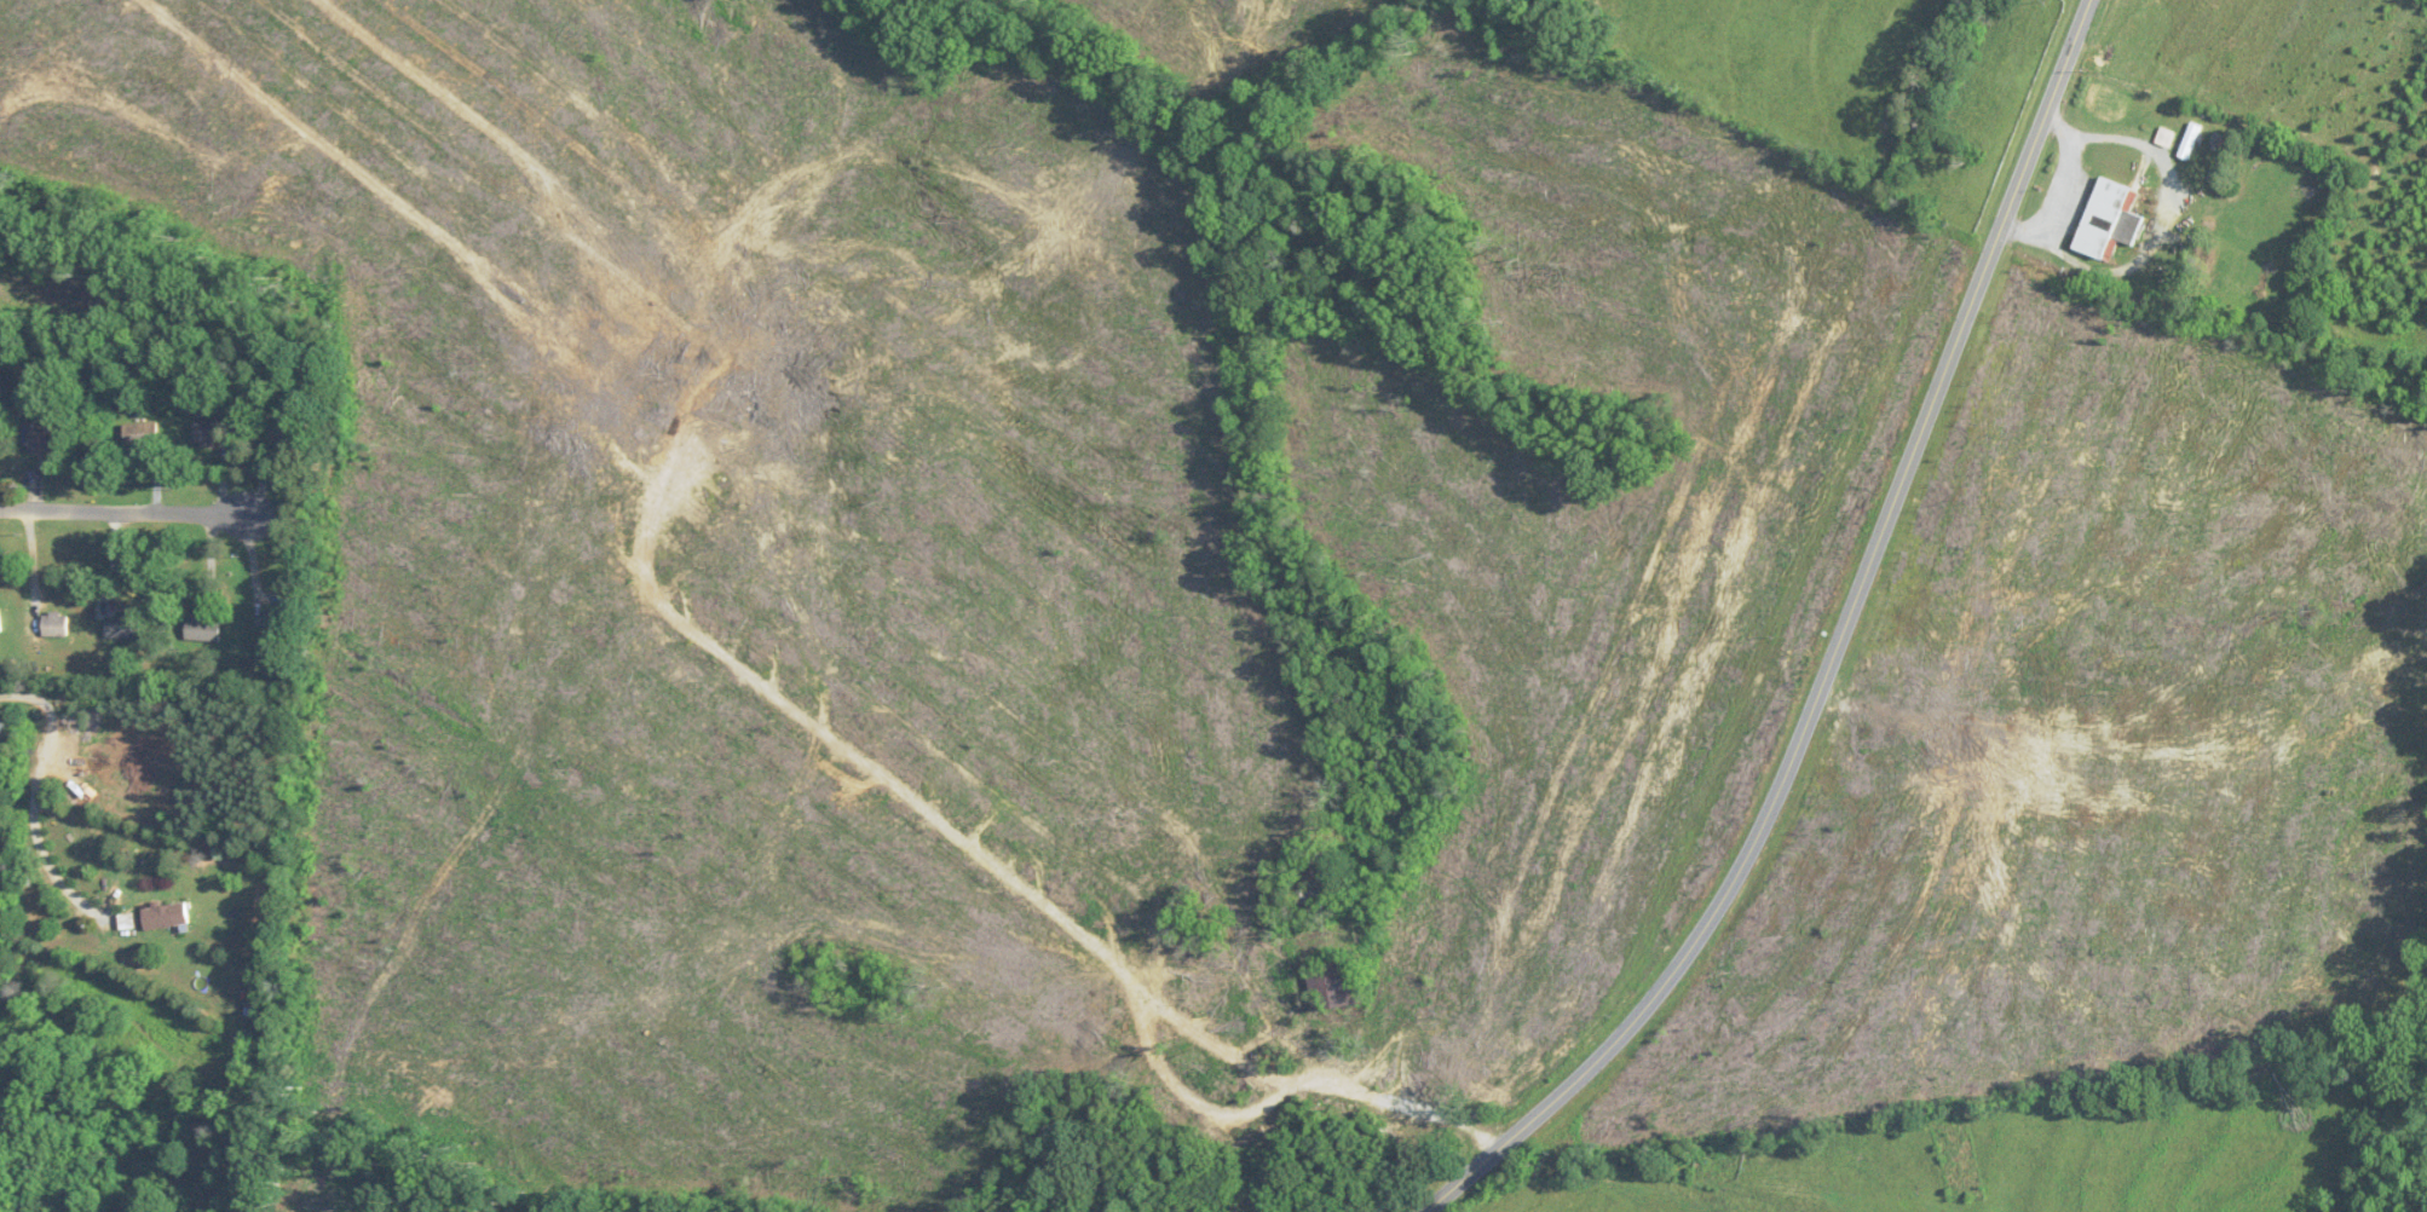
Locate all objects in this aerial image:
building: (2190, 142)
building: (2110, 220)
building: (292, 432)
building: (211, 433)
building: (140, 435)
building: (42, 440)
road: (160, 515)
building: (276, 622)
building: (56, 624)
building: (122, 627)
building: (0, 629)
building: (203, 629)
road: (1837, 653)
road: (22, 876)
road: (53, 877)
building: (1314, 896)
building: (166, 916)
building: (127, 922)
building: (1334, 985)
building: (255, 1008)

